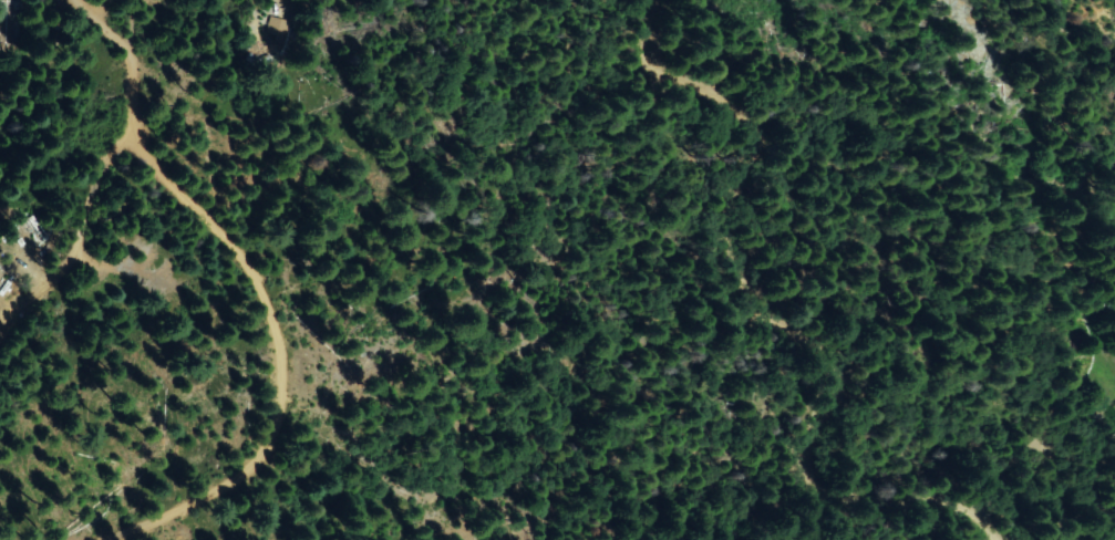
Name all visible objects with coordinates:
building: (7, 23)
building: (276, 30)
road: (885, 205)
building: (1112, 308)
road: (783, 339)
road: (1107, 468)

